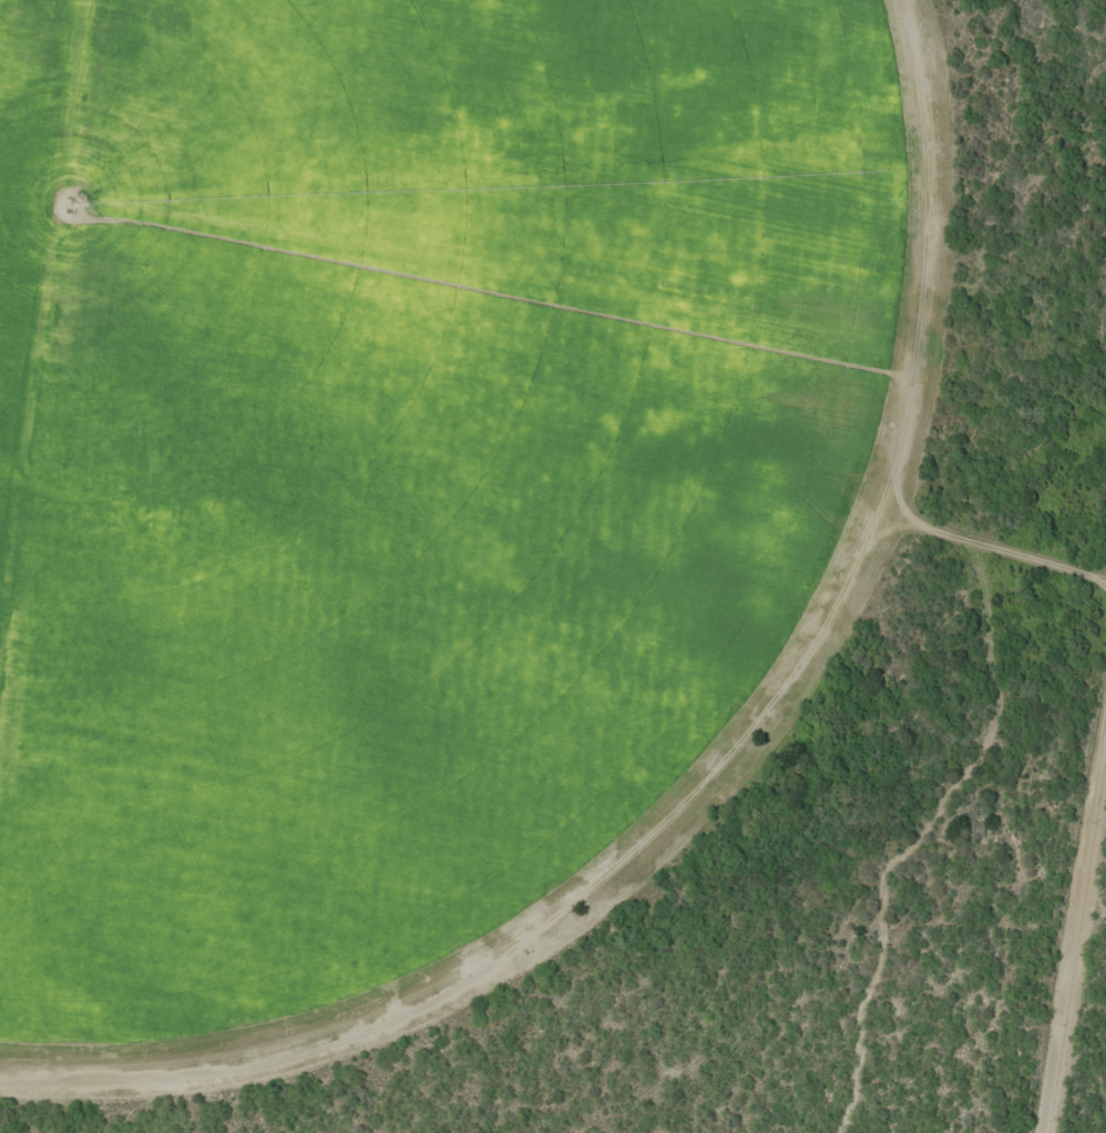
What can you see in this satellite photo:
road: (39, 299)

